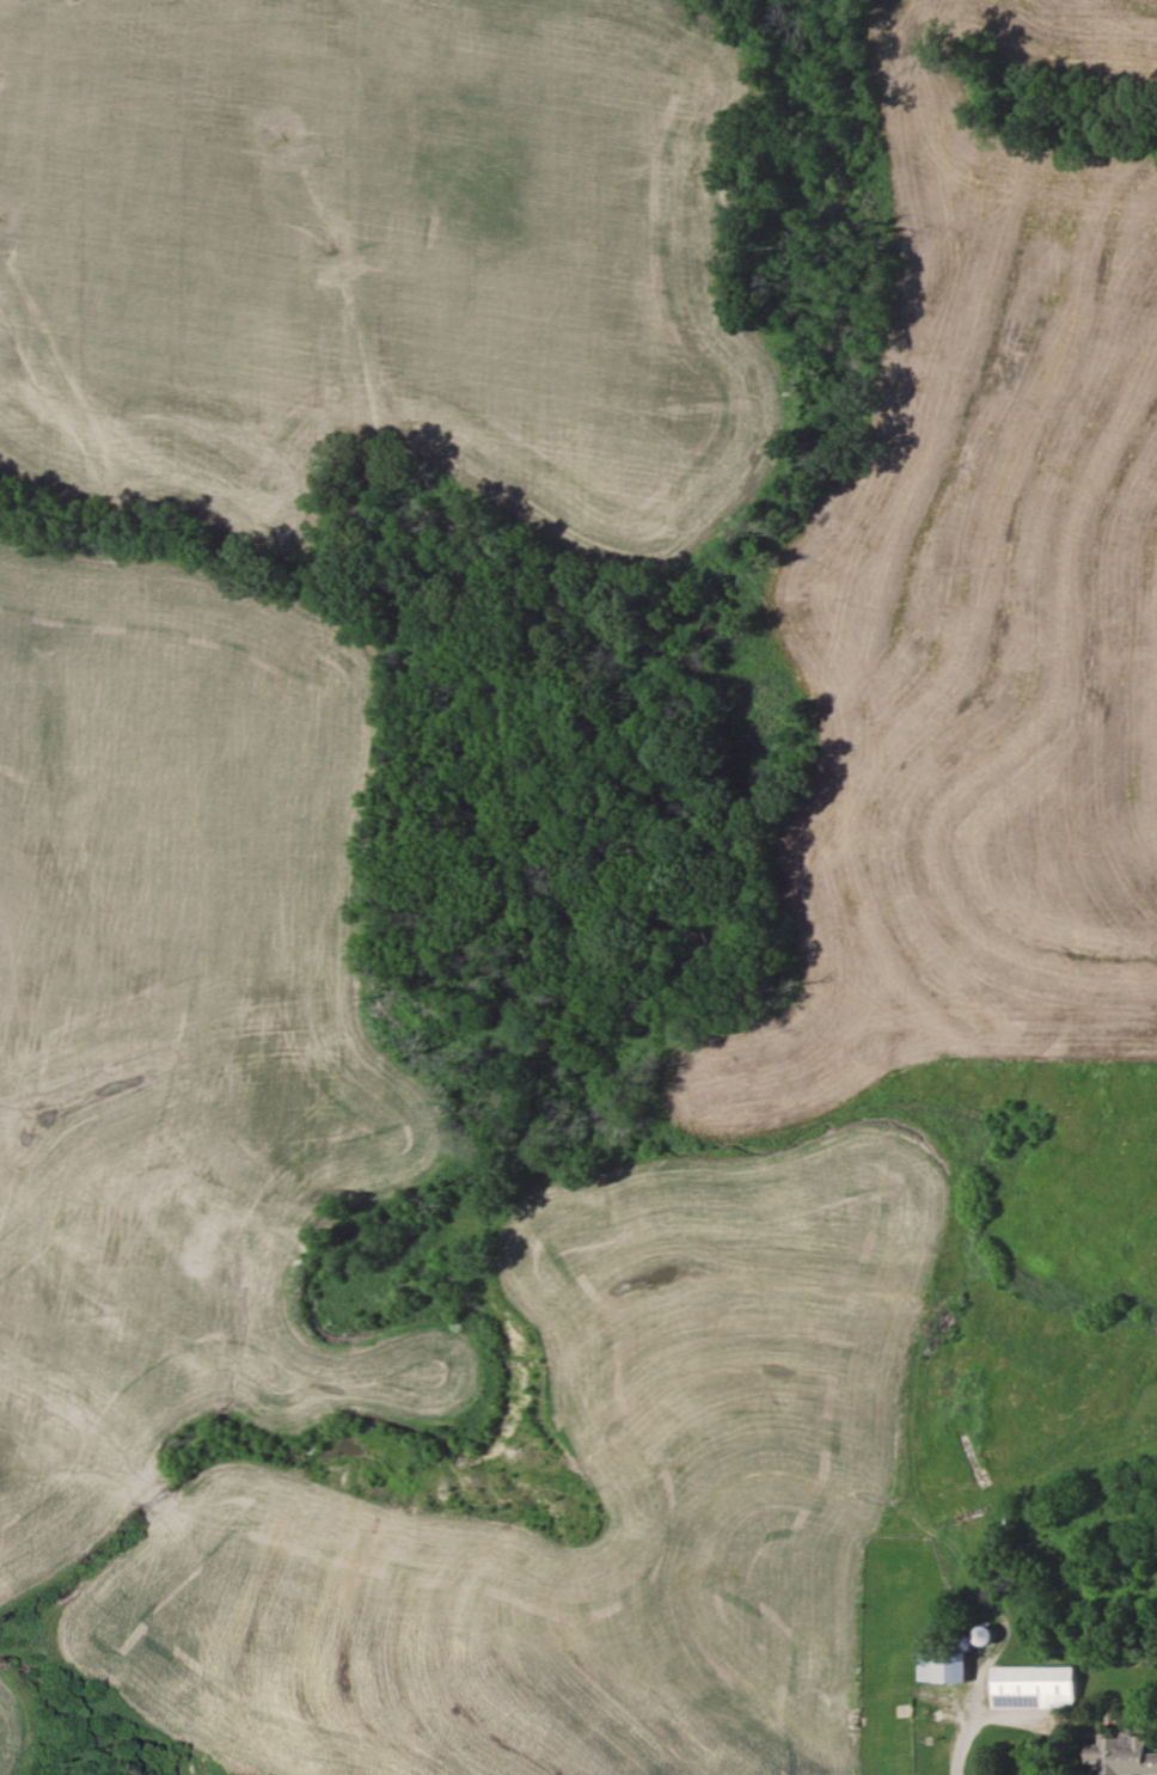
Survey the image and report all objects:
building: (938, 1667)
building: (1028, 1689)
road: (966, 1736)
building: (1119, 1758)

